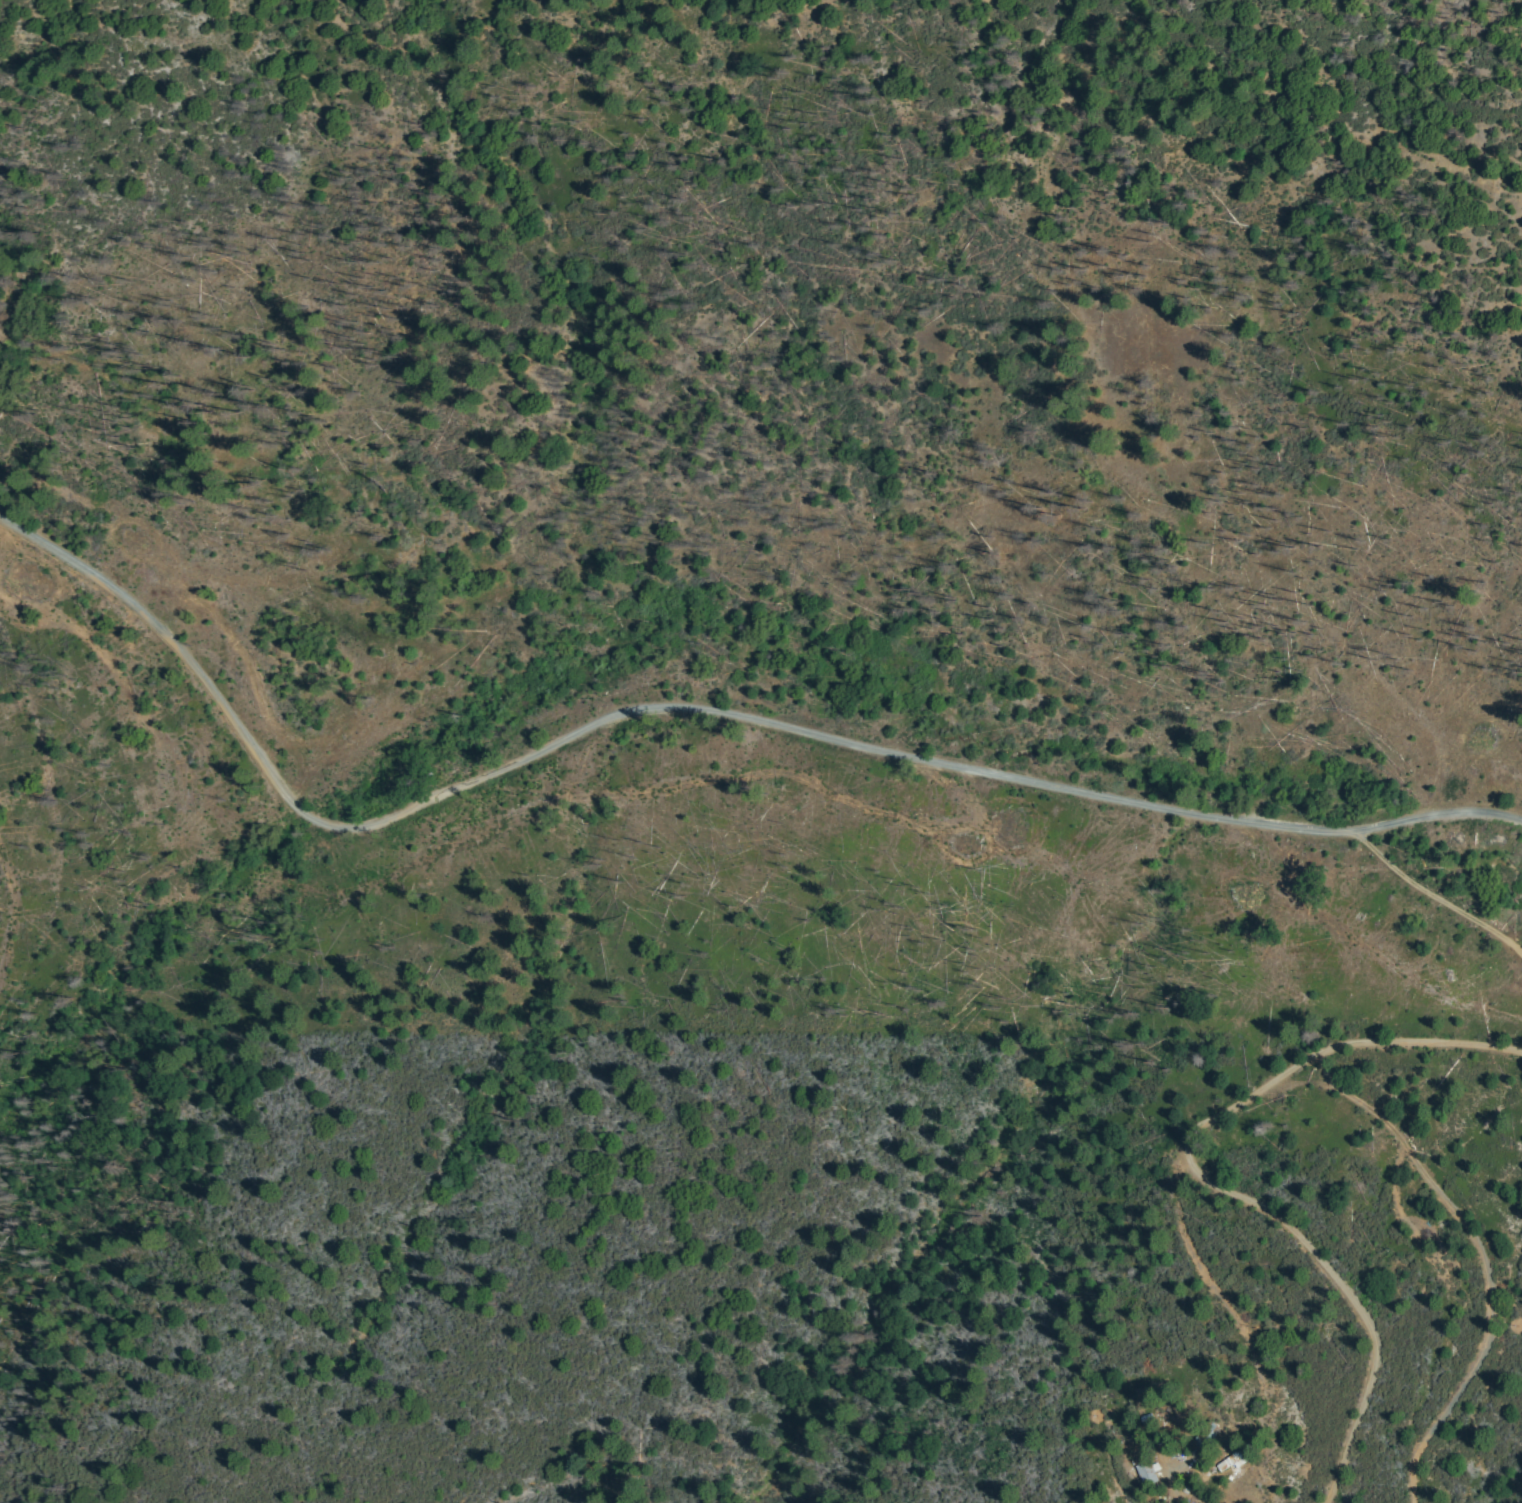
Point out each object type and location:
road: (688, 710)
building: (1203, 1442)
building: (1231, 1460)
building: (1147, 1473)

